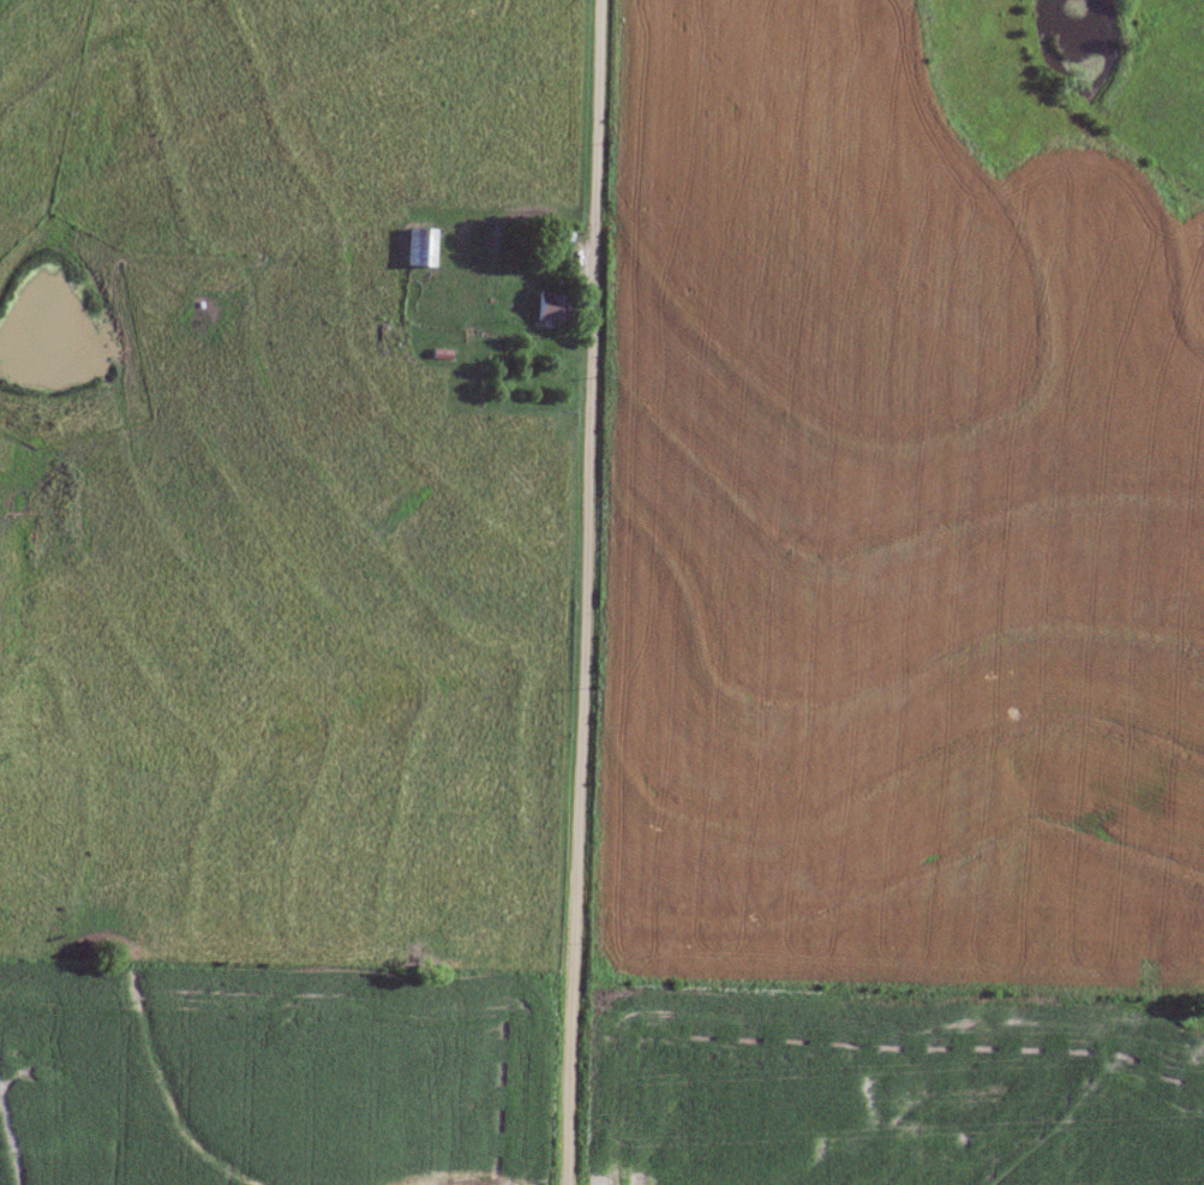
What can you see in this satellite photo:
building: (420, 249)
building: (549, 309)
road: (582, 592)

